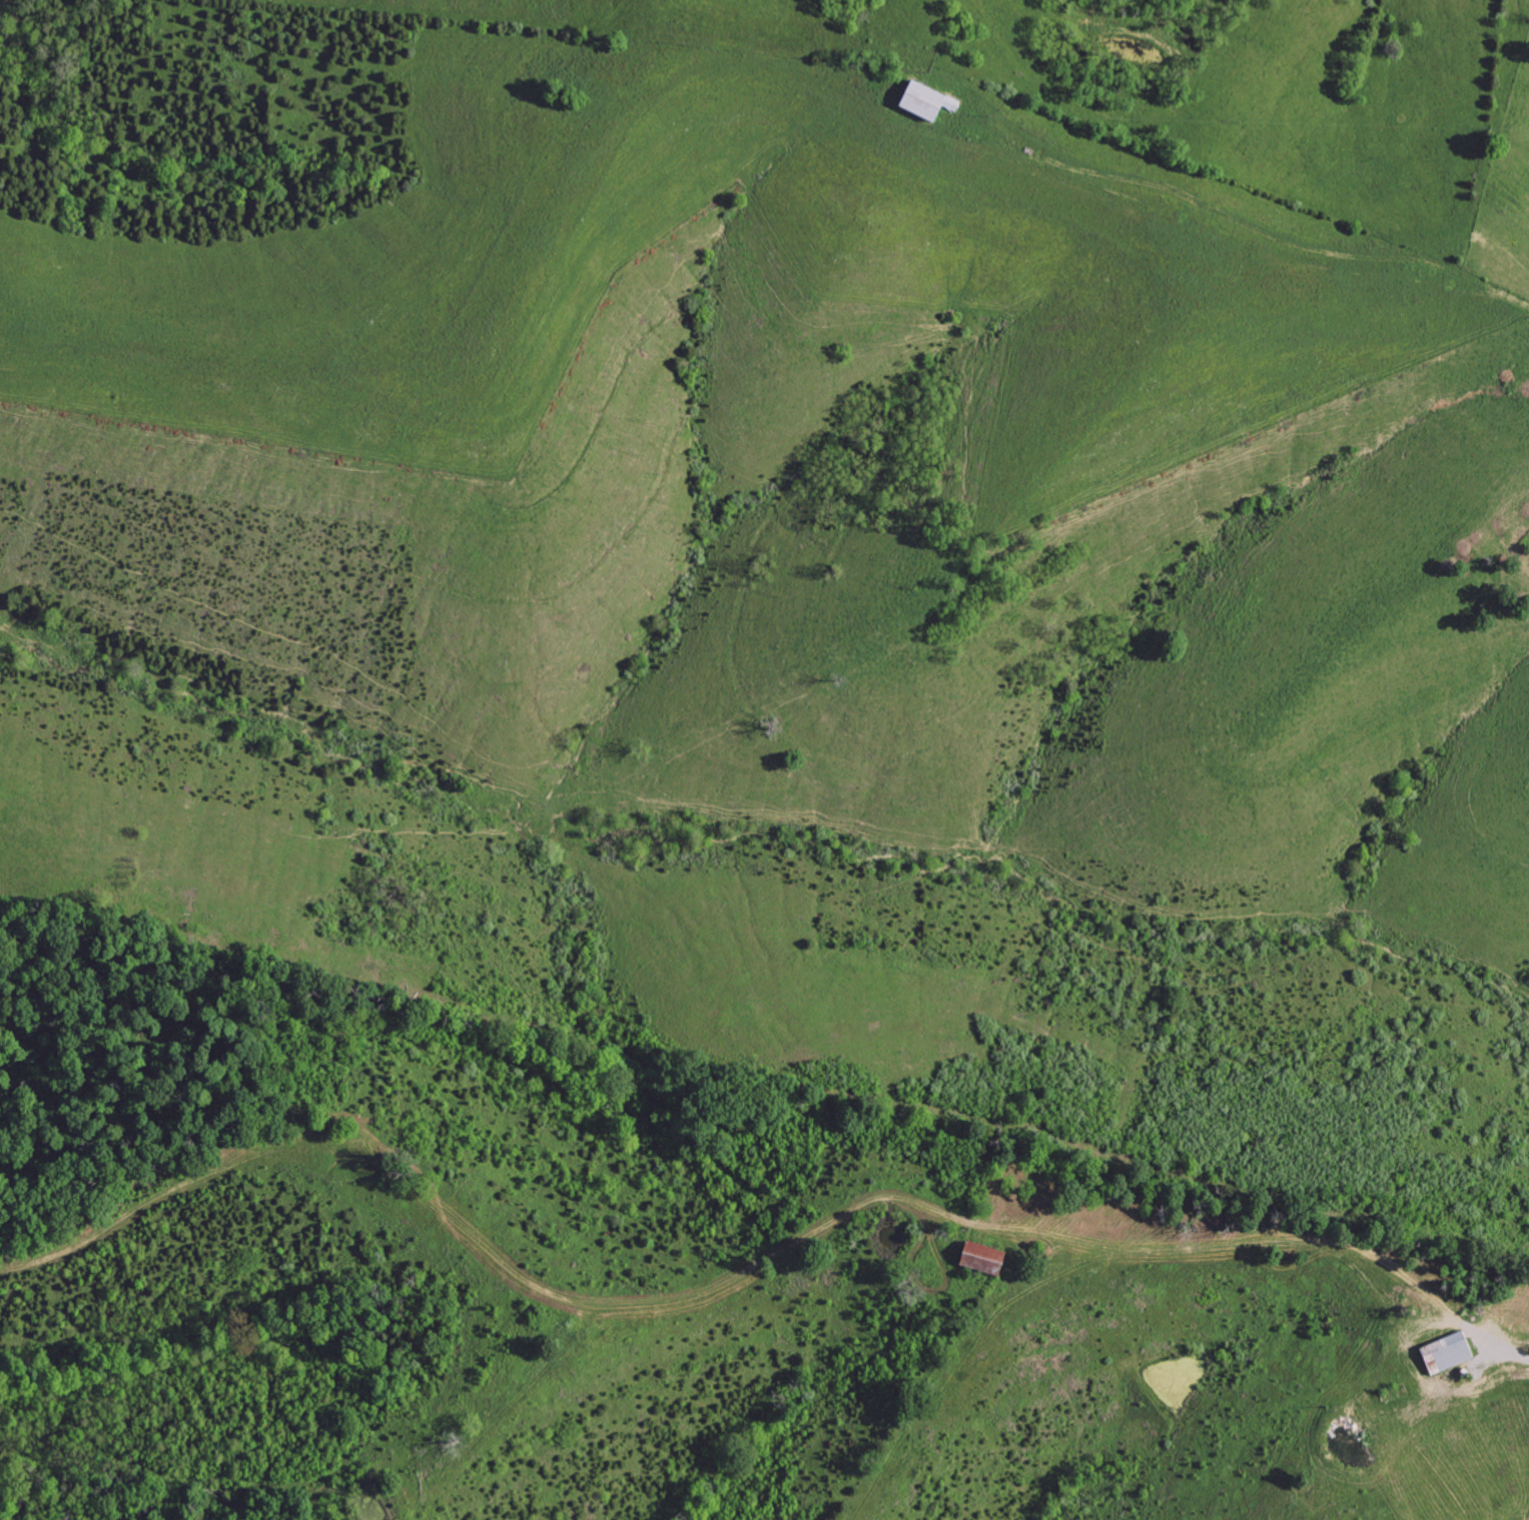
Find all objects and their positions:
building: (914, 101)
building: (974, 1257)
building: (1441, 1353)

